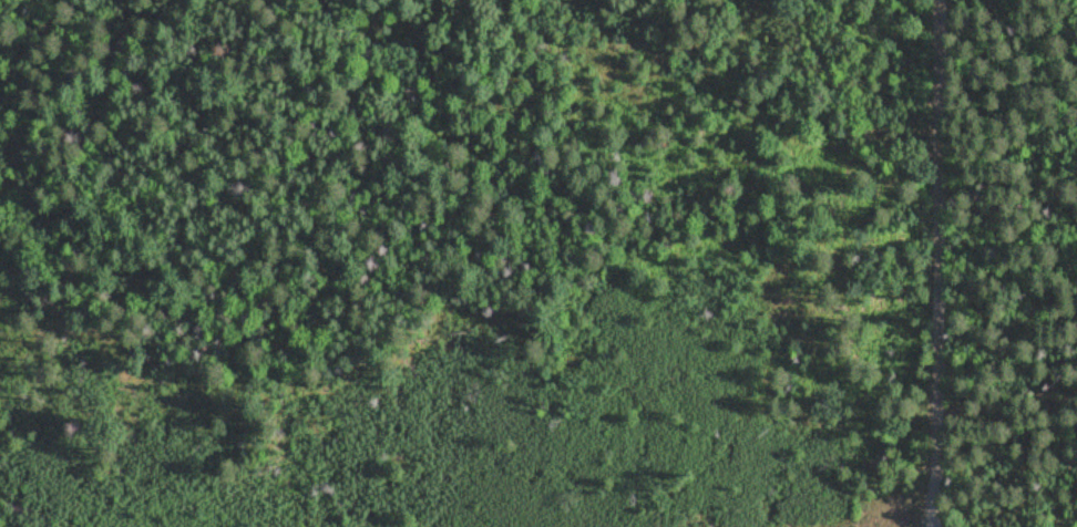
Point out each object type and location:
road: (937, 263)

